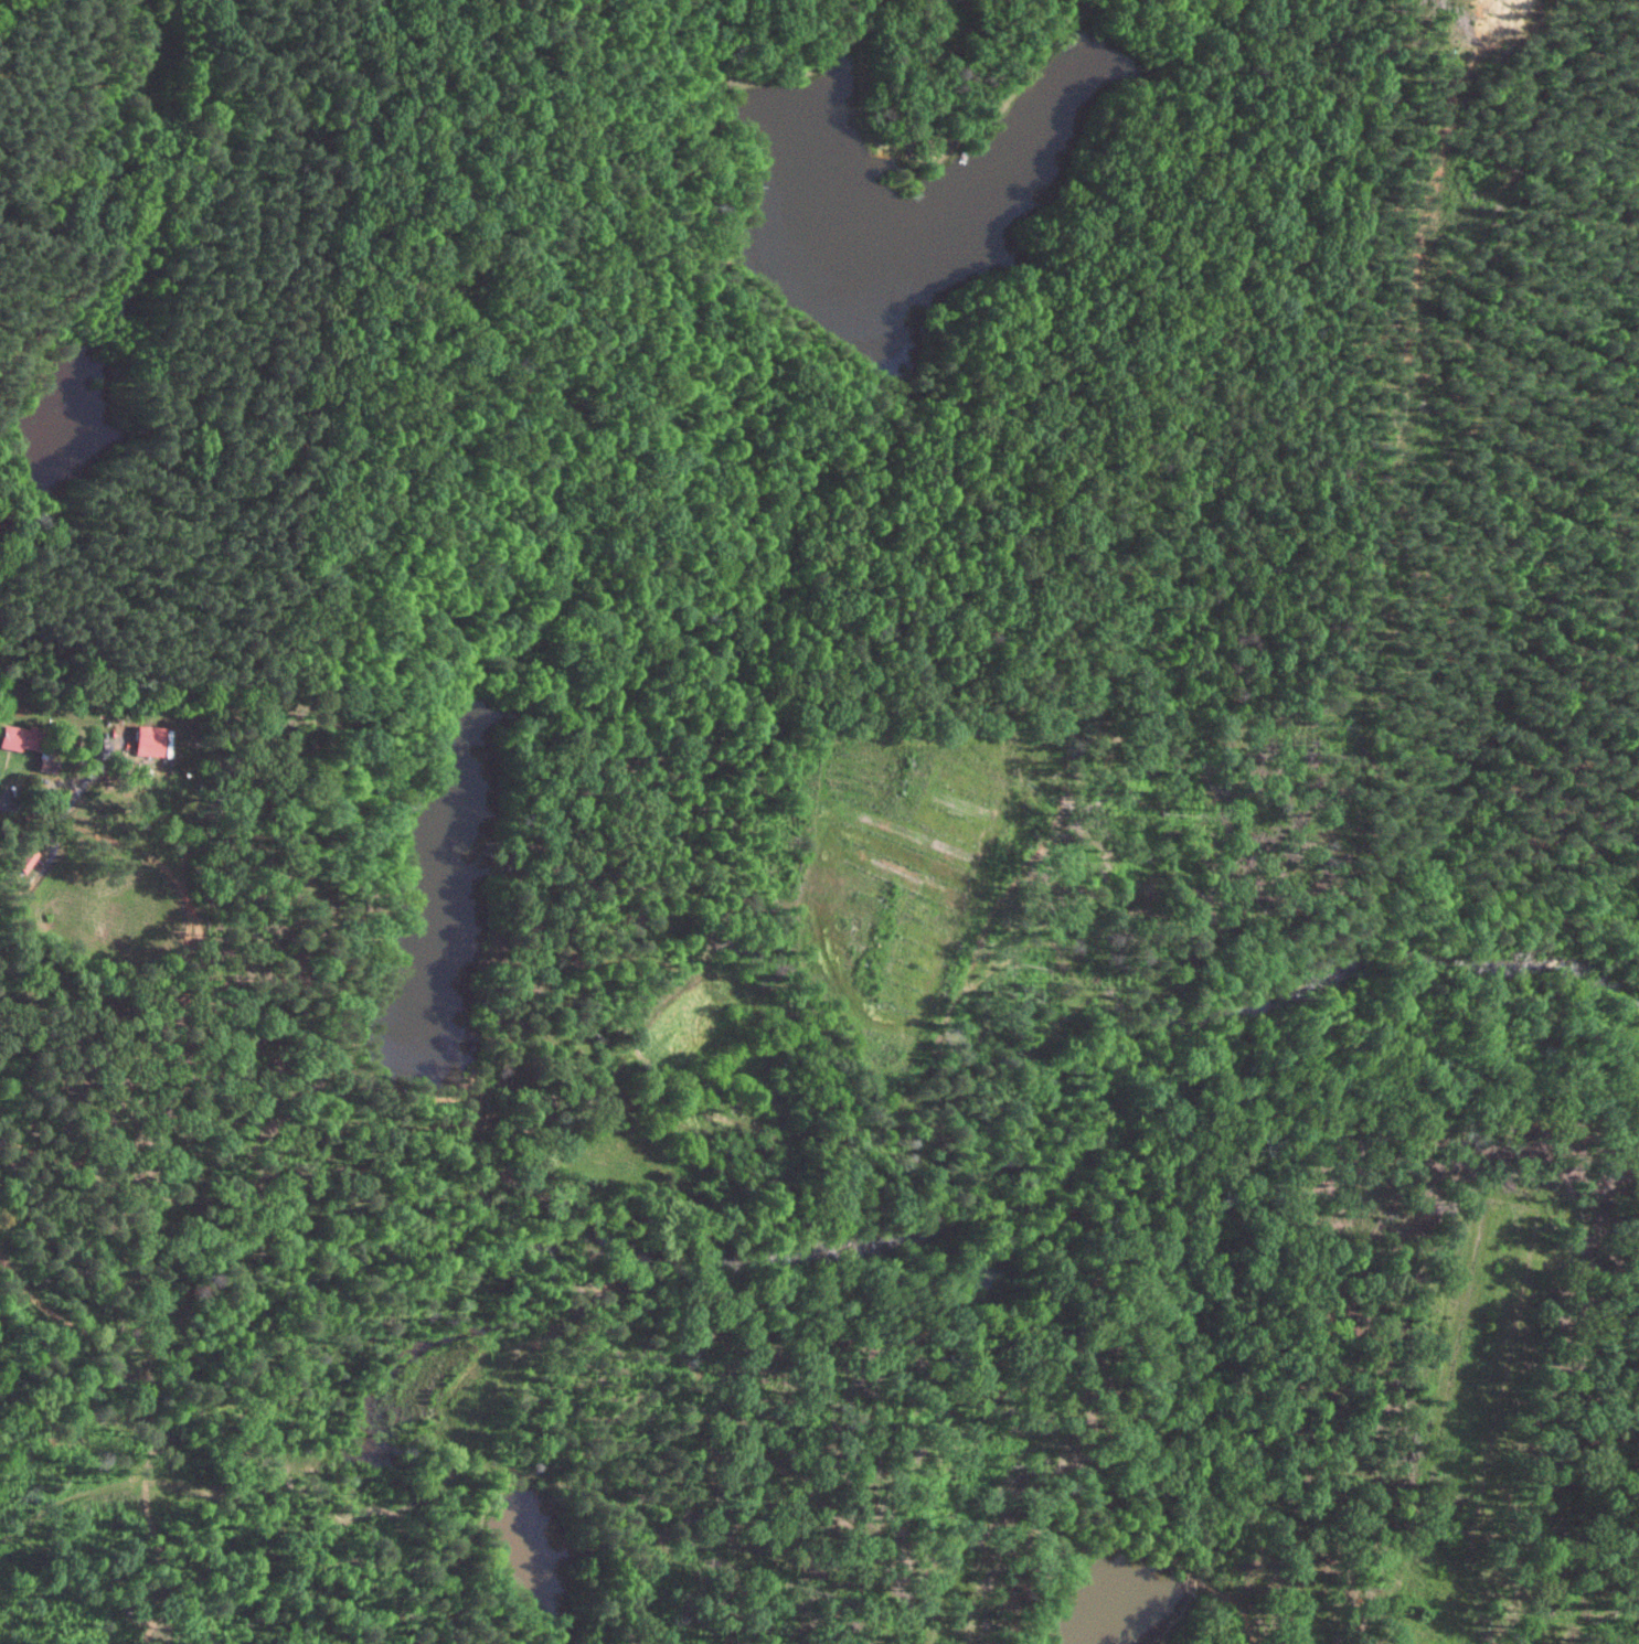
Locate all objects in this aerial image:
building: (14, 737)
building: (146, 739)
road: (2, 805)
building: (18, 858)

